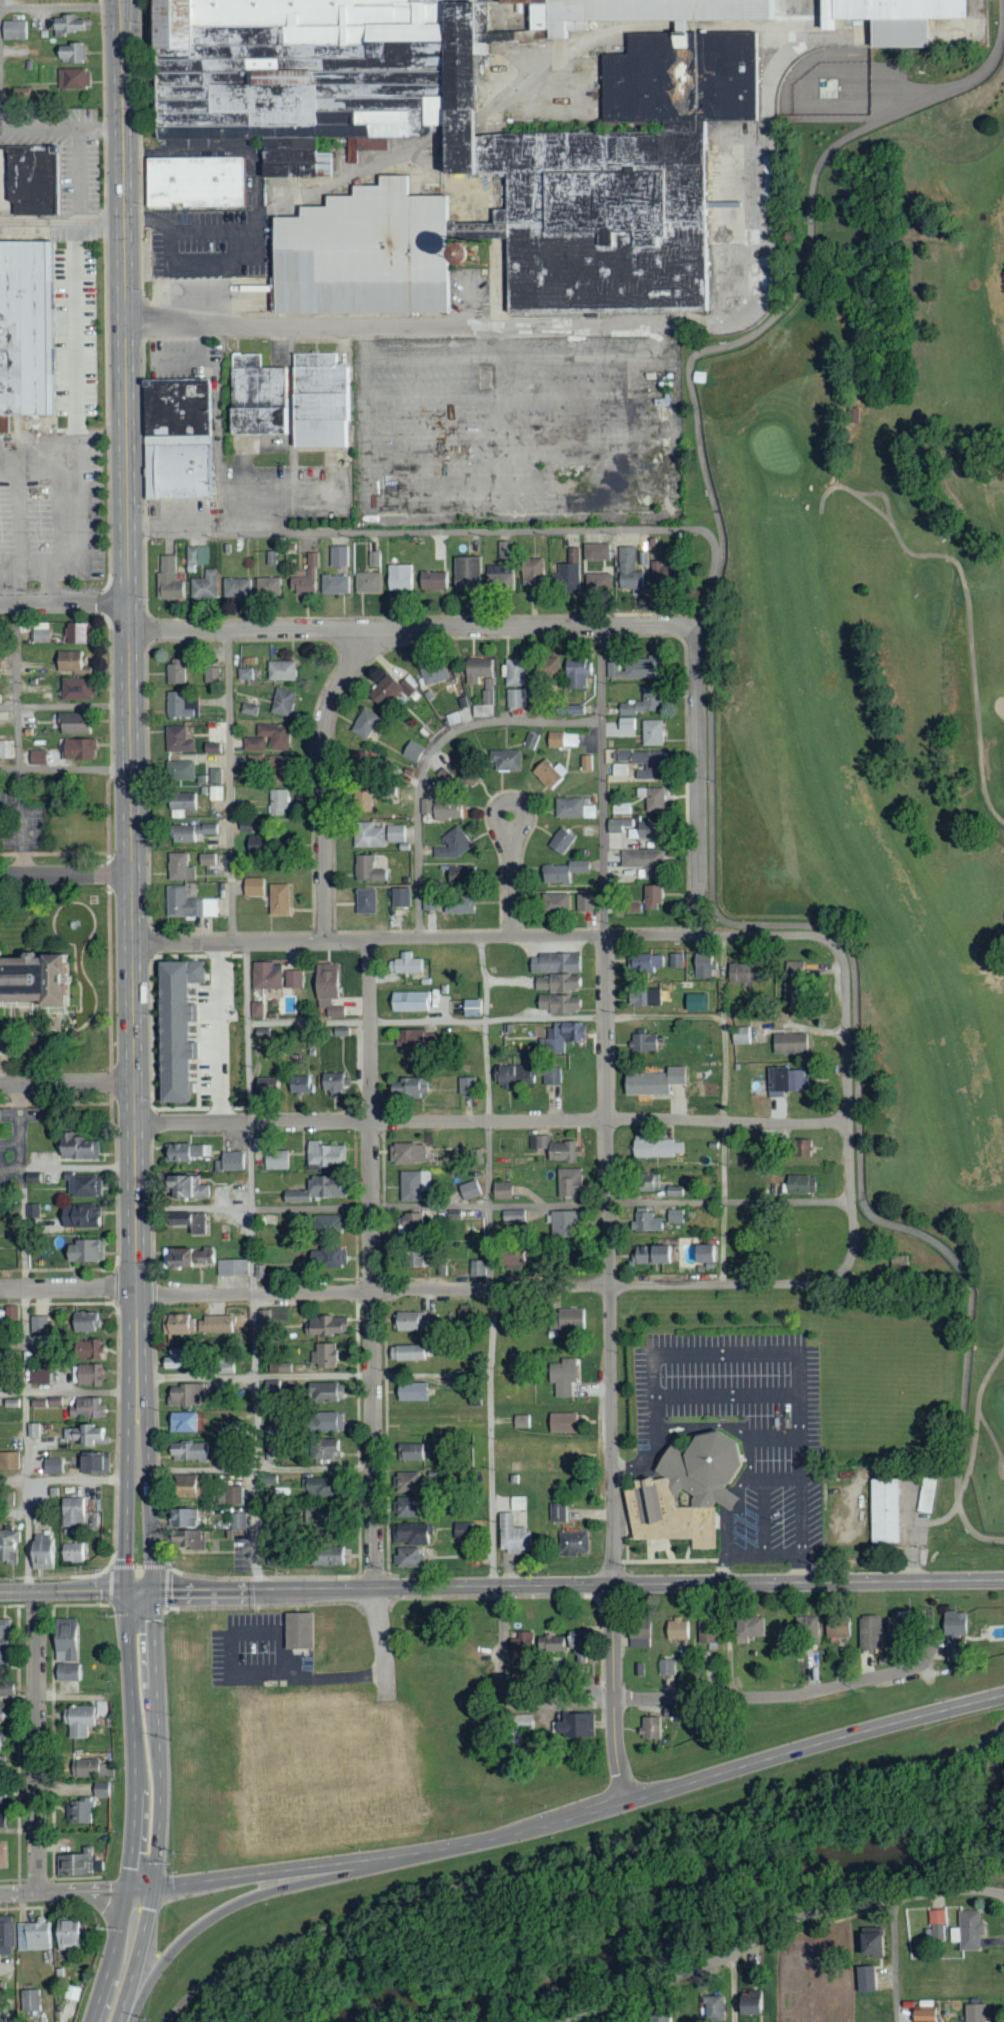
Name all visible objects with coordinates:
road: (0, 5)
road: (60, 6)
building: (66, 25)
building: (13, 31)
building: (68, 53)
building: (72, 79)
road: (772, 82)
building: (19, 94)
road: (61, 125)
road: (965, 127)
building: (477, 136)
building: (30, 179)
building: (198, 180)
road: (62, 219)
road: (124, 302)
road: (425, 325)
road: (835, 325)
building: (30, 326)
building: (259, 394)
building: (322, 400)
building: (3, 423)
building: (180, 439)
road: (468, 529)
building: (504, 549)
building: (595, 551)
road: (928, 554)
building: (197, 555)
building: (338, 556)
building: (374, 558)
building: (628, 570)
building: (466, 572)
building: (567, 572)
building: (531, 574)
building: (664, 575)
building: (399, 576)
building: (167, 578)
building: (306, 578)
building: (432, 580)
building: (498, 580)
building: (367, 582)
building: (597, 582)
building: (335, 584)
building: (204, 585)
building: (236, 587)
building: (267, 587)
road: (64, 604)
road: (410, 627)
building: (77, 633)
building: (40, 635)
building: (70, 662)
park: (888, 667)
building: (633, 668)
building: (545, 669)
building: (280, 670)
building: (175, 671)
building: (478, 671)
building: (432, 672)
building: (514, 672)
building: (245, 673)
building: (576, 673)
building: (211, 674)
building: (76, 688)
building: (388, 690)
building: (514, 698)
building: (283, 702)
building: (642, 702)
road: (65, 705)
building: (180, 705)
building: (483, 705)
building: (247, 709)
building: (73, 723)
building: (626, 723)
building: (366, 724)
building: (651, 732)
building: (267, 738)
road: (16, 739)
building: (176, 739)
building: (561, 740)
building: (211, 747)
building: (77, 748)
building: (6, 749)
building: (411, 751)
road: (979, 754)
road: (430, 756)
building: (35, 757)
building: (179, 757)
building: (506, 759)
building: (372, 761)
building: (585, 762)
building: (264, 763)
building: (653, 766)
road: (65, 767)
building: (618, 769)
building: (179, 770)
building: (548, 773)
building: (444, 774)
building: (215, 776)
road: (324, 779)
road: (600, 780)
road: (697, 780)
road: (711, 780)
road: (229, 785)
building: (215, 793)
building: (651, 798)
building: (362, 800)
building: (276, 801)
building: (181, 803)
building: (573, 807)
road: (9, 808)
building: (620, 808)
building: (446, 810)
building: (617, 824)
building: (643, 830)
building: (189, 832)
building: (395, 833)
building: (367, 835)
building: (560, 840)
building: (451, 843)
building: (207, 859)
building: (643, 862)
building: (179, 867)
building: (366, 869)
building: (561, 871)
road: (66, 874)
building: (459, 875)
road: (512, 876)
building: (252, 886)
building: (399, 897)
building: (651, 897)
building: (277, 899)
building: (364, 901)
building: (566, 902)
building: (187, 904)
building: (457, 904)
building: (632, 907)
fountain: (73, 923)
road: (484, 936)
building: (644, 962)
building: (553, 963)
building: (404, 964)
building: (704, 967)
building: (792, 970)
building: (743, 973)
building: (266, 975)
building: (35, 978)
building: (294, 979)
building: (326, 991)
building: (557, 993)
building: (643, 997)
road: (133, 1001)
building: (409, 1001)
building: (694, 1002)
building: (470, 1008)
building: (255, 1010)
road: (484, 1019)
building: (174, 1026)
building: (340, 1031)
building: (740, 1035)
building: (563, 1036)
building: (412, 1040)
building: (1, 1042)
building: (642, 1042)
building: (789, 1043)
building: (513, 1076)
building: (550, 1076)
building: (332, 1078)
building: (785, 1079)
road: (67, 1082)
building: (652, 1082)
building: (299, 1084)
building: (264, 1086)
building: (465, 1086)
building: (407, 1088)
road: (848, 1103)
road: (723, 1109)
road: (492, 1120)
building: (74, 1147)
building: (656, 1147)
building: (799, 1148)
building: (556, 1149)
building: (177, 1153)
building: (407, 1153)
building: (322, 1155)
building: (476, 1155)
building: (275, 1160)
building: (229, 1162)
road: (11, 1167)
building: (647, 1182)
building: (567, 1183)
building: (799, 1184)
building: (412, 1185)
building: (82, 1186)
building: (183, 1188)
building: (315, 1190)
building: (469, 1190)
building: (502, 1190)
road: (494, 1204)
building: (32, 1210)
building: (78, 1216)
building: (513, 1216)
building: (673, 1216)
building: (644, 1221)
building: (187, 1222)
building: (407, 1223)
building: (563, 1224)
building: (325, 1225)
building: (84, 1251)
building: (703, 1254)
building: (649, 1255)
building: (188, 1257)
building: (325, 1258)
building: (511, 1258)
building: (412, 1261)
road: (372, 1263)
road: (253, 1265)
building: (232, 1268)
building: (476, 1268)
road: (427, 1290)
building: (465, 1314)
building: (263, 1318)
building: (567, 1319)
building: (409, 1321)
building: (83, 1322)
building: (37, 1324)
building: (178, 1324)
building: (212, 1324)
building: (323, 1326)
road: (24, 1337)
building: (86, 1349)
road: (767, 1351)
building: (405, 1352)
building: (324, 1356)
building: (174, 1358)
road: (611, 1369)
road: (432, 1374)
building: (88, 1375)
road: (256, 1375)
road: (490, 1375)
building: (38, 1376)
building: (561, 1377)
road: (68, 1390)
building: (323, 1392)
building: (410, 1393)
building: (185, 1396)
building: (86, 1408)
road: (978, 1408)
building: (520, 1421)
building: (180, 1422)
building: (325, 1423)
building: (560, 1423)
road: (726, 1424)
parking lot: (740, 1425)
building: (87, 1436)
building: (324, 1449)
building: (187, 1452)
building: (409, 1452)
road: (971, 1457)
building: (9, 1461)
building: (89, 1464)
building: (52, 1466)
road: (260, 1469)
road: (65, 1475)
building: (406, 1482)
building: (182, 1486)
building: (316, 1487)
building: (690, 1488)
road: (129, 1494)
road: (147, 1494)
building: (925, 1495)
building: (232, 1496)
building: (8, 1499)
building: (516, 1504)
building: (405, 1507)
building: (882, 1511)
building: (71, 1516)
building: (310, 1518)
building: (181, 1519)
building: (238, 1521)
building: (565, 1532)
building: (459, 1533)
building: (410, 1534)
building: (511, 1535)
building: (184, 1540)
building: (8, 1544)
building: (40, 1552)
building: (71, 1553)
building: (326, 1556)
road: (576, 1585)
road: (63, 1592)
traffic signals: (128, 1592)
road: (138, 1592)
traffic signals: (149, 1592)
building: (900, 1625)
building: (747, 1626)
building: (805, 1626)
building: (836, 1627)
building: (303, 1629)
building: (675, 1629)
road: (381, 1632)
building: (706, 1633)
building: (638, 1634)
building: (869, 1634)
building: (953, 1635)
building: (8, 1640)
building: (520, 1642)
building: (72, 1643)
building: (576, 1646)
building: (666, 1666)
building: (73, 1671)
road: (236, 1676)
building: (7, 1689)
road: (19, 1695)
road: (768, 1696)
road: (1002, 1696)
building: (88, 1718)
building: (521, 1724)
building: (572, 1727)
building: (649, 1729)
building: (4, 1740)
road: (39, 1741)
building: (5, 1762)
building: (95, 1767)
building: (106, 1789)
building: (4, 1794)
road: (134, 1809)
road: (158, 1809)
building: (86, 1811)
road: (580, 1816)
building: (5, 1817)
road: (572, 1852)
building: (7, 1854)
building: (82, 1863)
traffic signals: (150, 1887)
traffic signals: (125, 1888)
road: (74, 1890)
road: (241, 1904)
building: (937, 1924)
road: (779, 1925)
river: (654, 1927)
building: (967, 1930)
building: (75, 1934)
building: (38, 1935)
building: (10, 1938)
building: (869, 1943)
road: (894, 1960)
building: (864, 1978)
road: (733, 1988)
building: (747, 2002)
building: (711, 2007)
building: (974, 2012)
building: (923, 2015)
building: (658, 2016)

